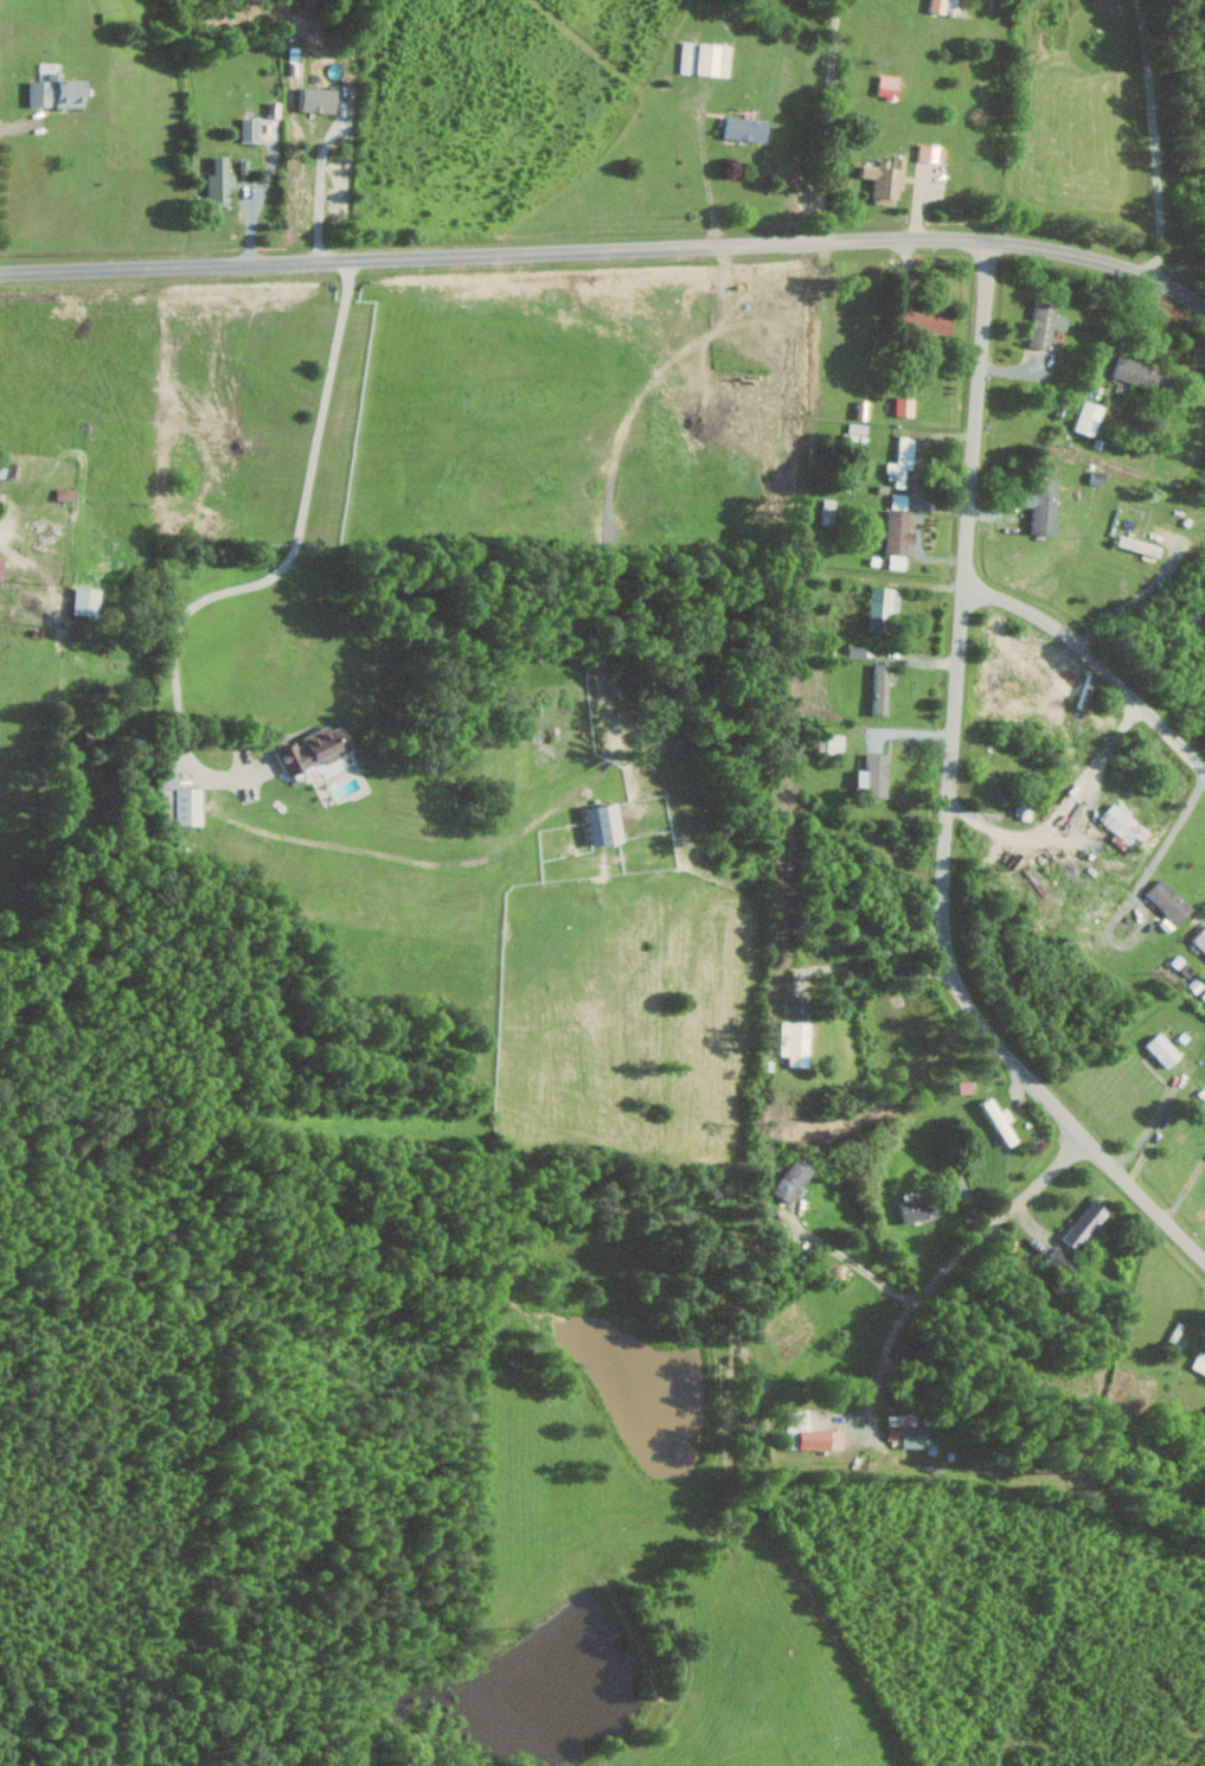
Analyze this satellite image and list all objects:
building: (941, 6)
building: (716, 58)
building: (891, 85)
building: (60, 91)
building: (321, 100)
road: (821, 124)
building: (252, 128)
building: (749, 128)
road: (1158, 143)
building: (931, 152)
building: (889, 179)
building: (222, 181)
road: (323, 197)
road: (608, 258)
building: (929, 320)
building: (1047, 324)
building: (1145, 376)
building: (1091, 417)
building: (904, 461)
building: (66, 494)
building: (902, 500)
building: (1046, 505)
building: (900, 531)
building: (899, 562)
building: (2, 567)
road: (277, 574)
road: (1136, 596)
building: (89, 601)
building: (884, 607)
building: (859, 652)
road: (1096, 664)
building: (883, 687)
building: (320, 753)
building: (877, 773)
road: (953, 804)
building: (191, 805)
building: (1025, 810)
building: (607, 823)
building: (1126, 824)
road: (1172, 834)
road: (1090, 842)
building: (1172, 900)
building: (1200, 939)
road: (1122, 942)
road: (879, 968)
building: (797, 1041)
building: (1166, 1049)
building: (1002, 1120)
road: (1149, 1128)
building: (795, 1179)
building: (919, 1208)
building: (1089, 1224)
road: (975, 1242)
building: (1060, 1260)
road: (854, 1261)
road: (893, 1338)
building: (1200, 1362)
road: (876, 1393)
road: (869, 1416)
building: (909, 1431)
building: (820, 1438)

